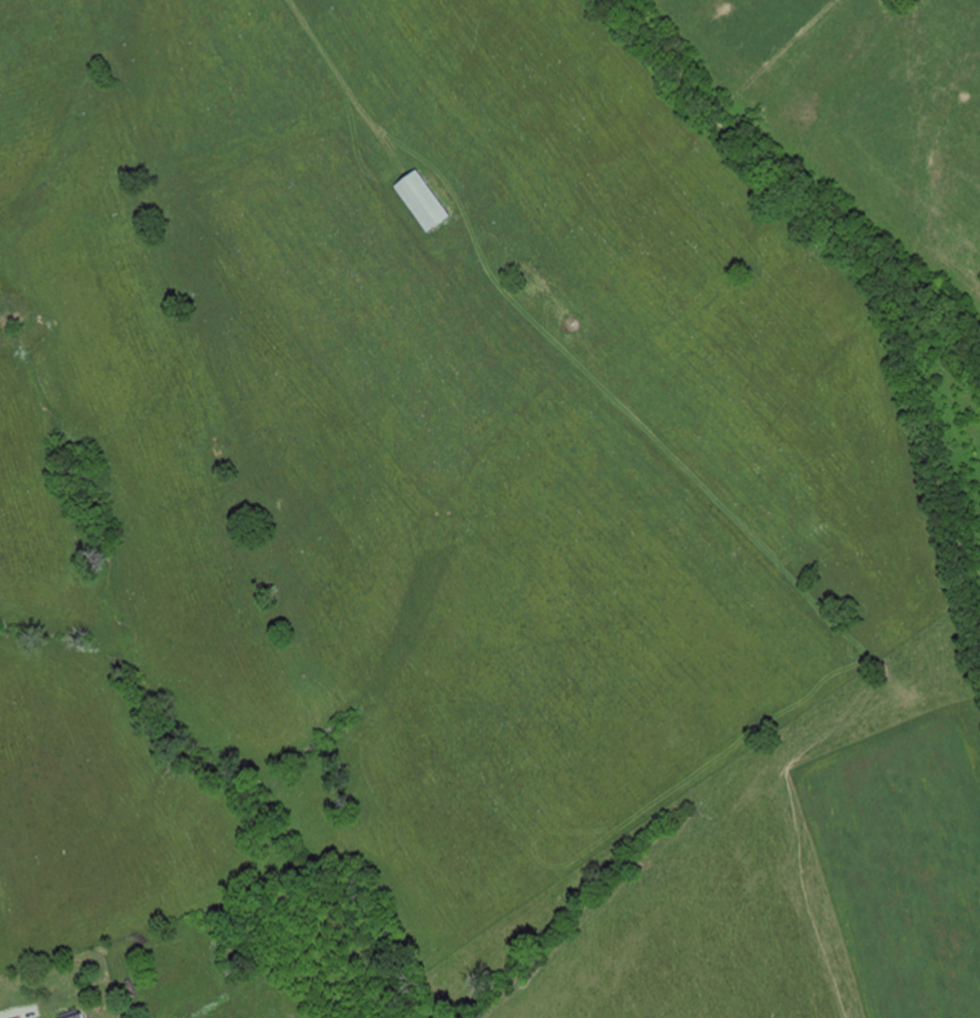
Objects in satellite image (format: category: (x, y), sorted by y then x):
building: (420, 199)
building: (74, 1016)

